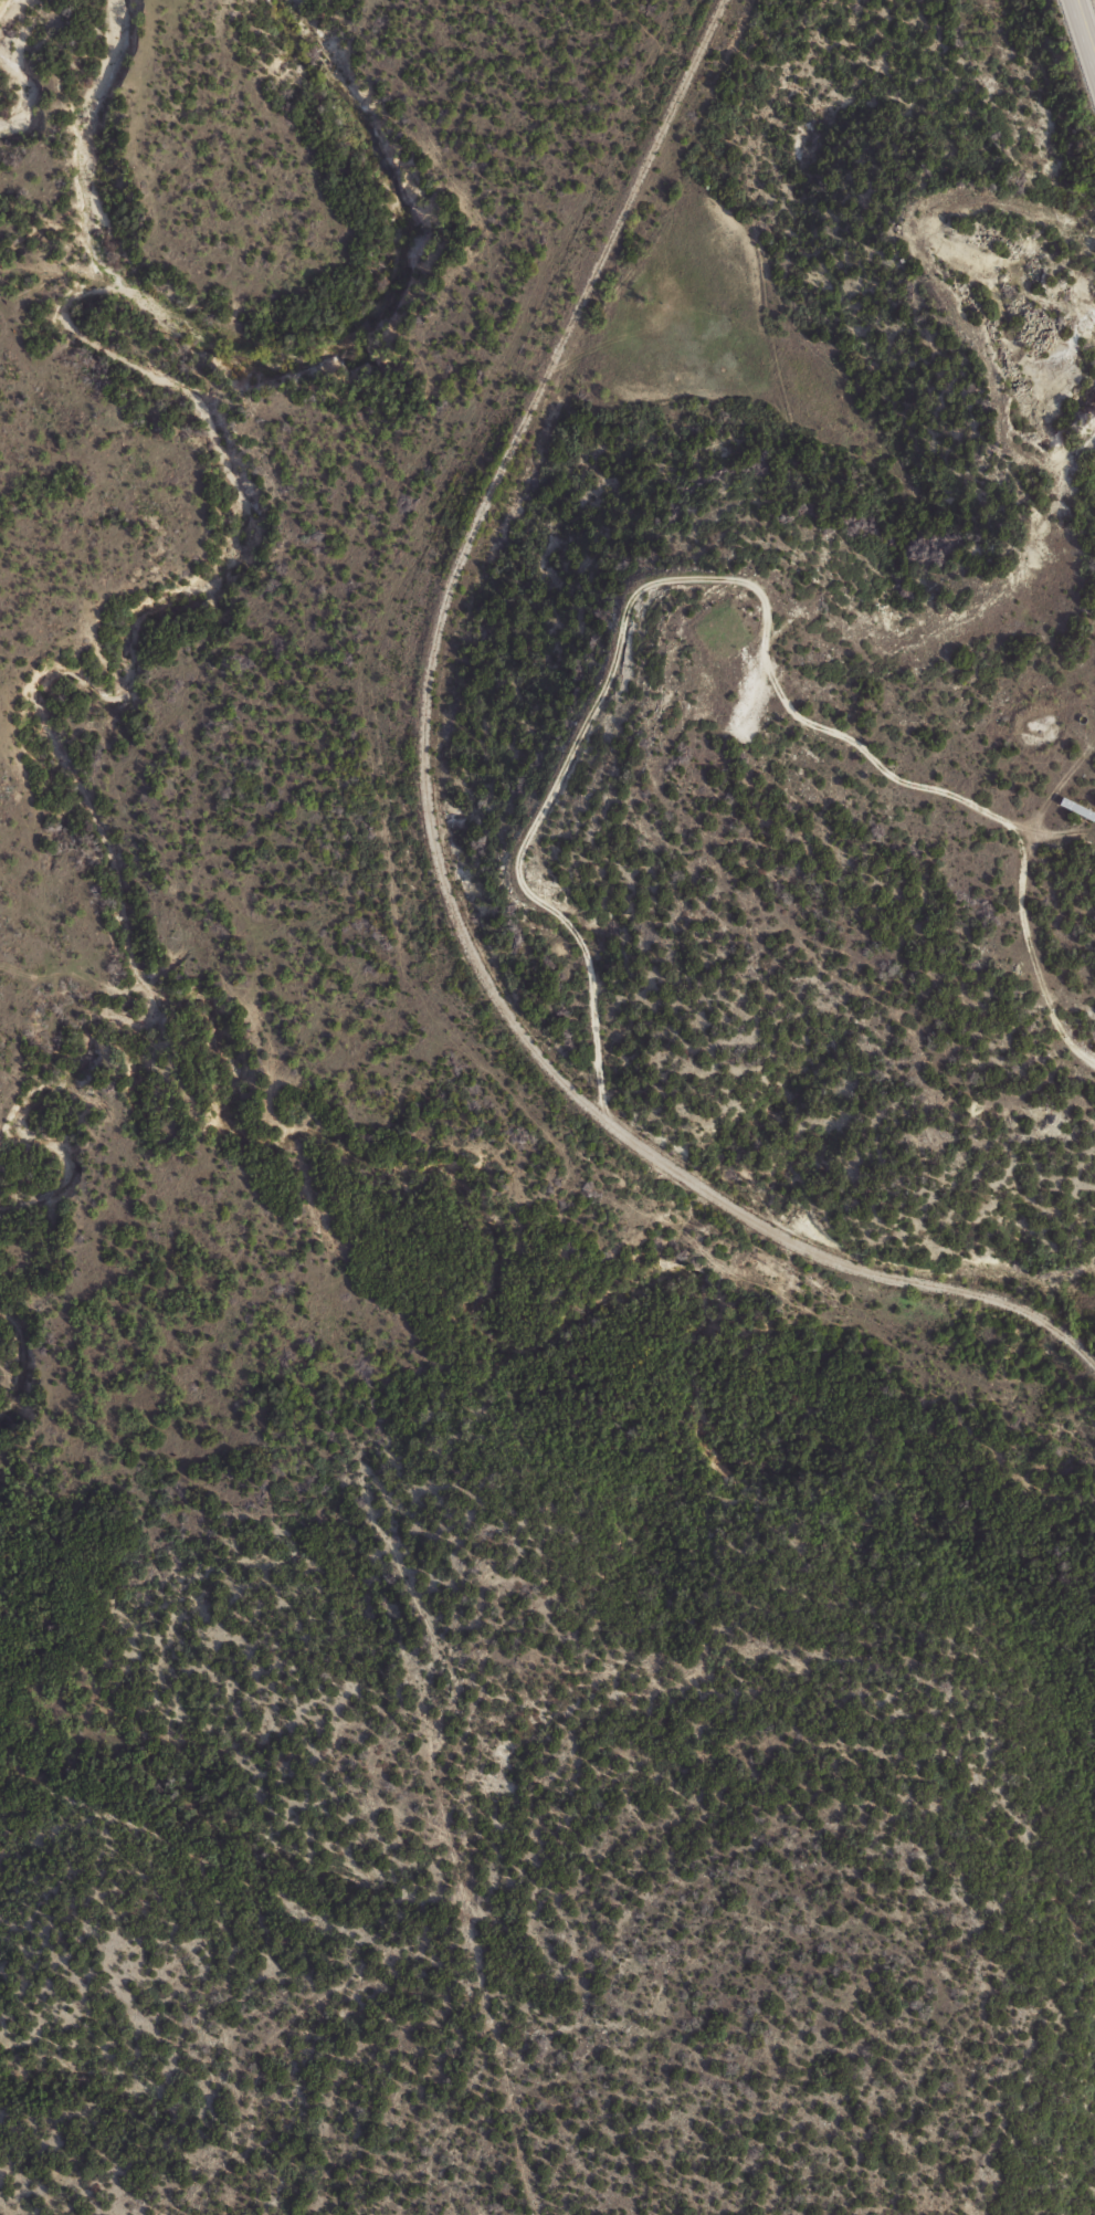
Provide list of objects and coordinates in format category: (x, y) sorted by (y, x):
road: (1085, 28)
road: (1033, 957)

